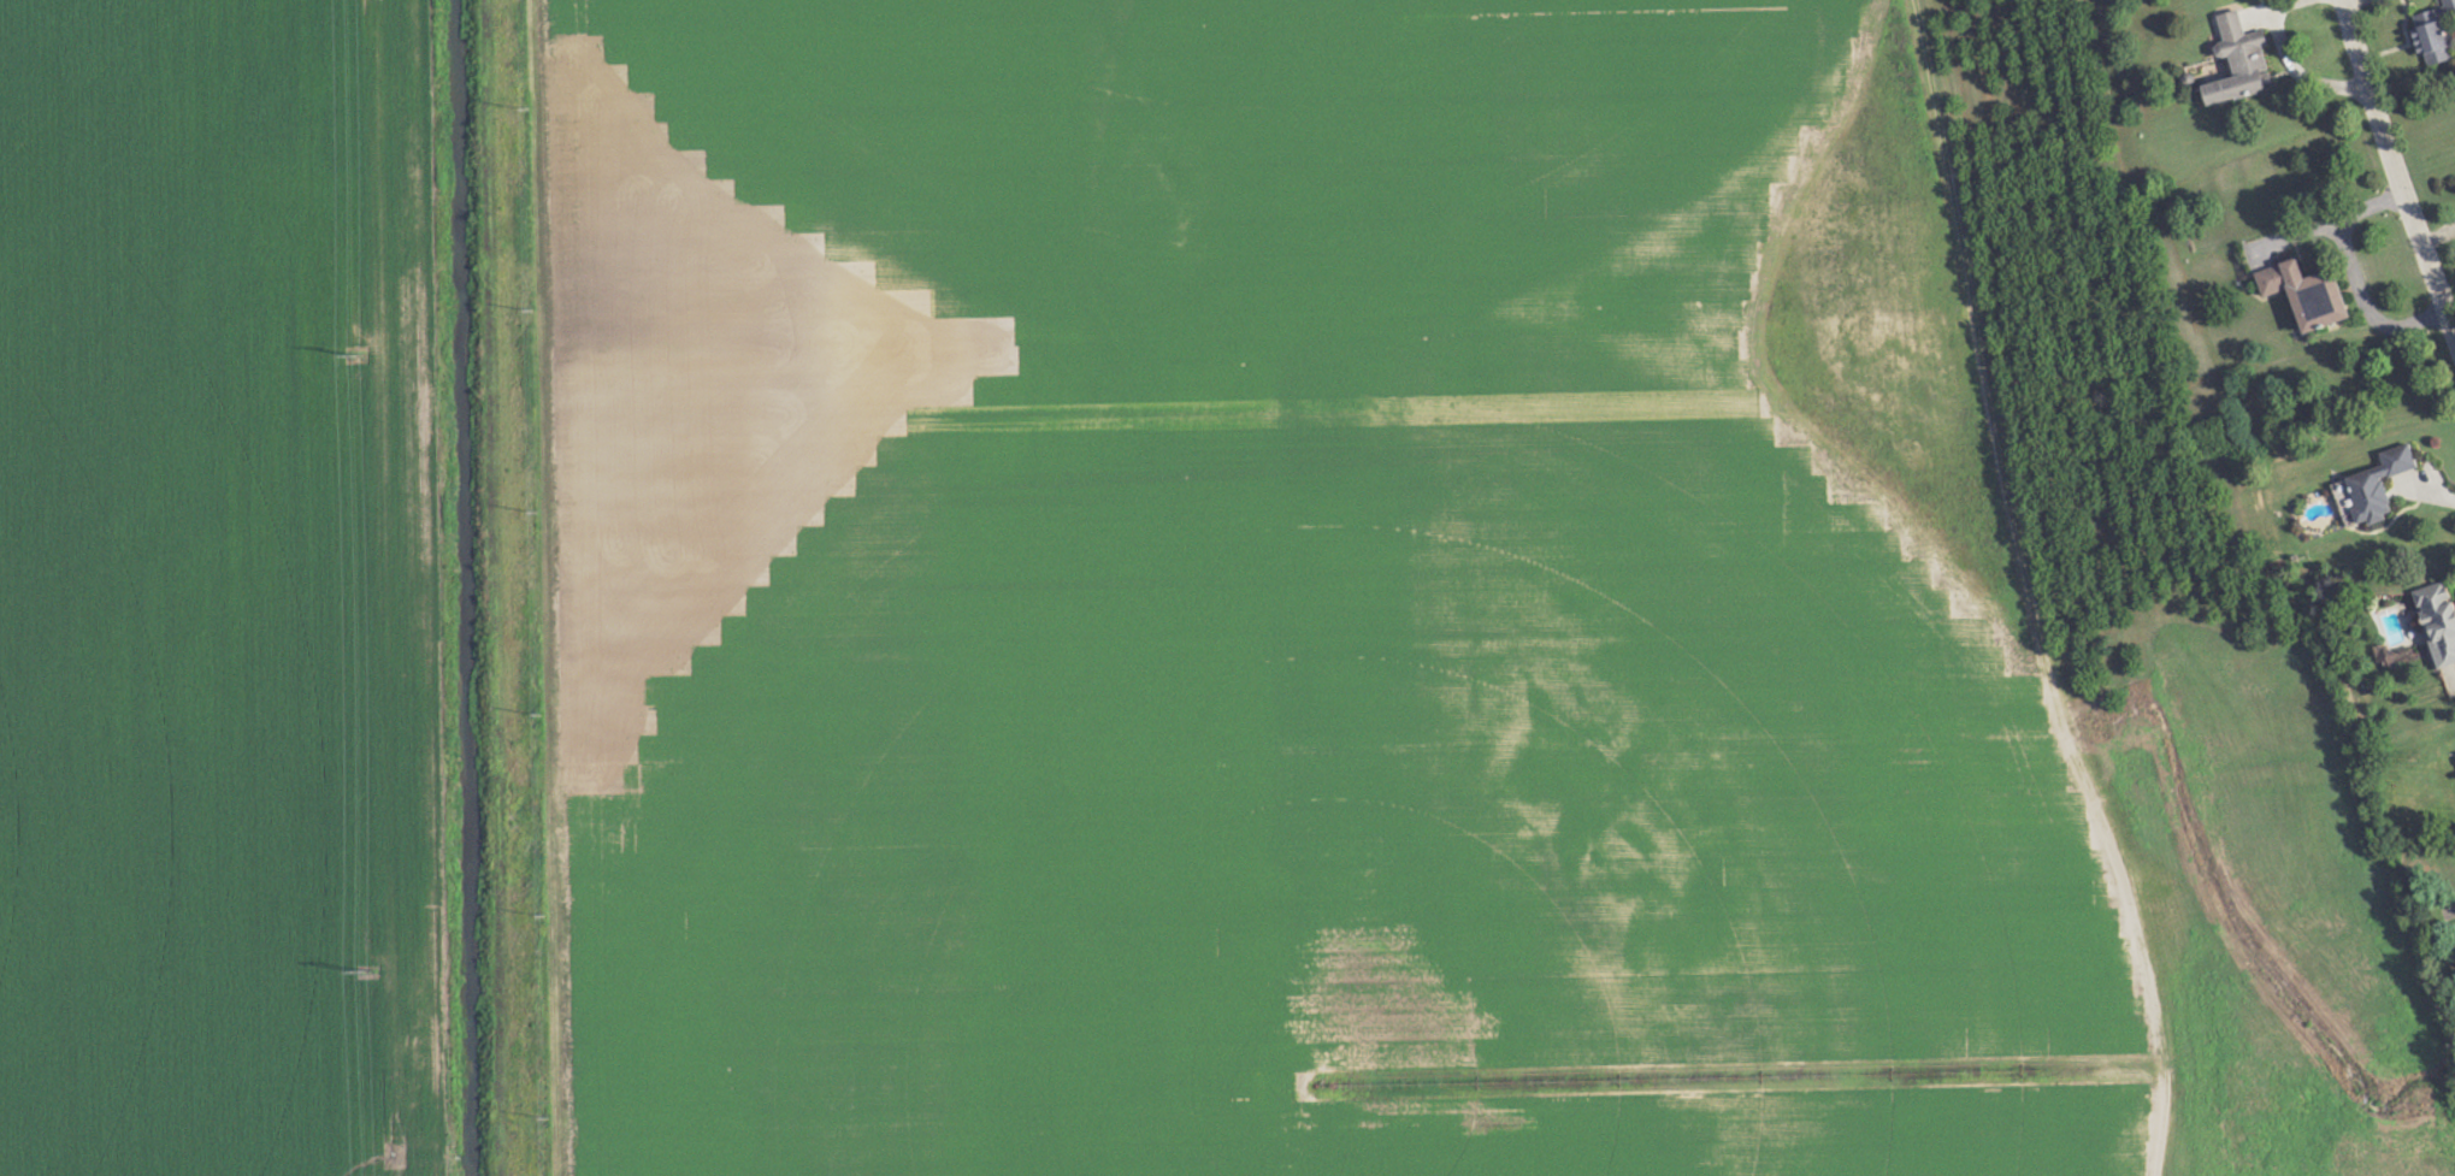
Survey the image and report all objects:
building: (2437, 31)
building: (2244, 58)
road: (2396, 161)
building: (2313, 291)
building: (2383, 479)
building: (2443, 616)

